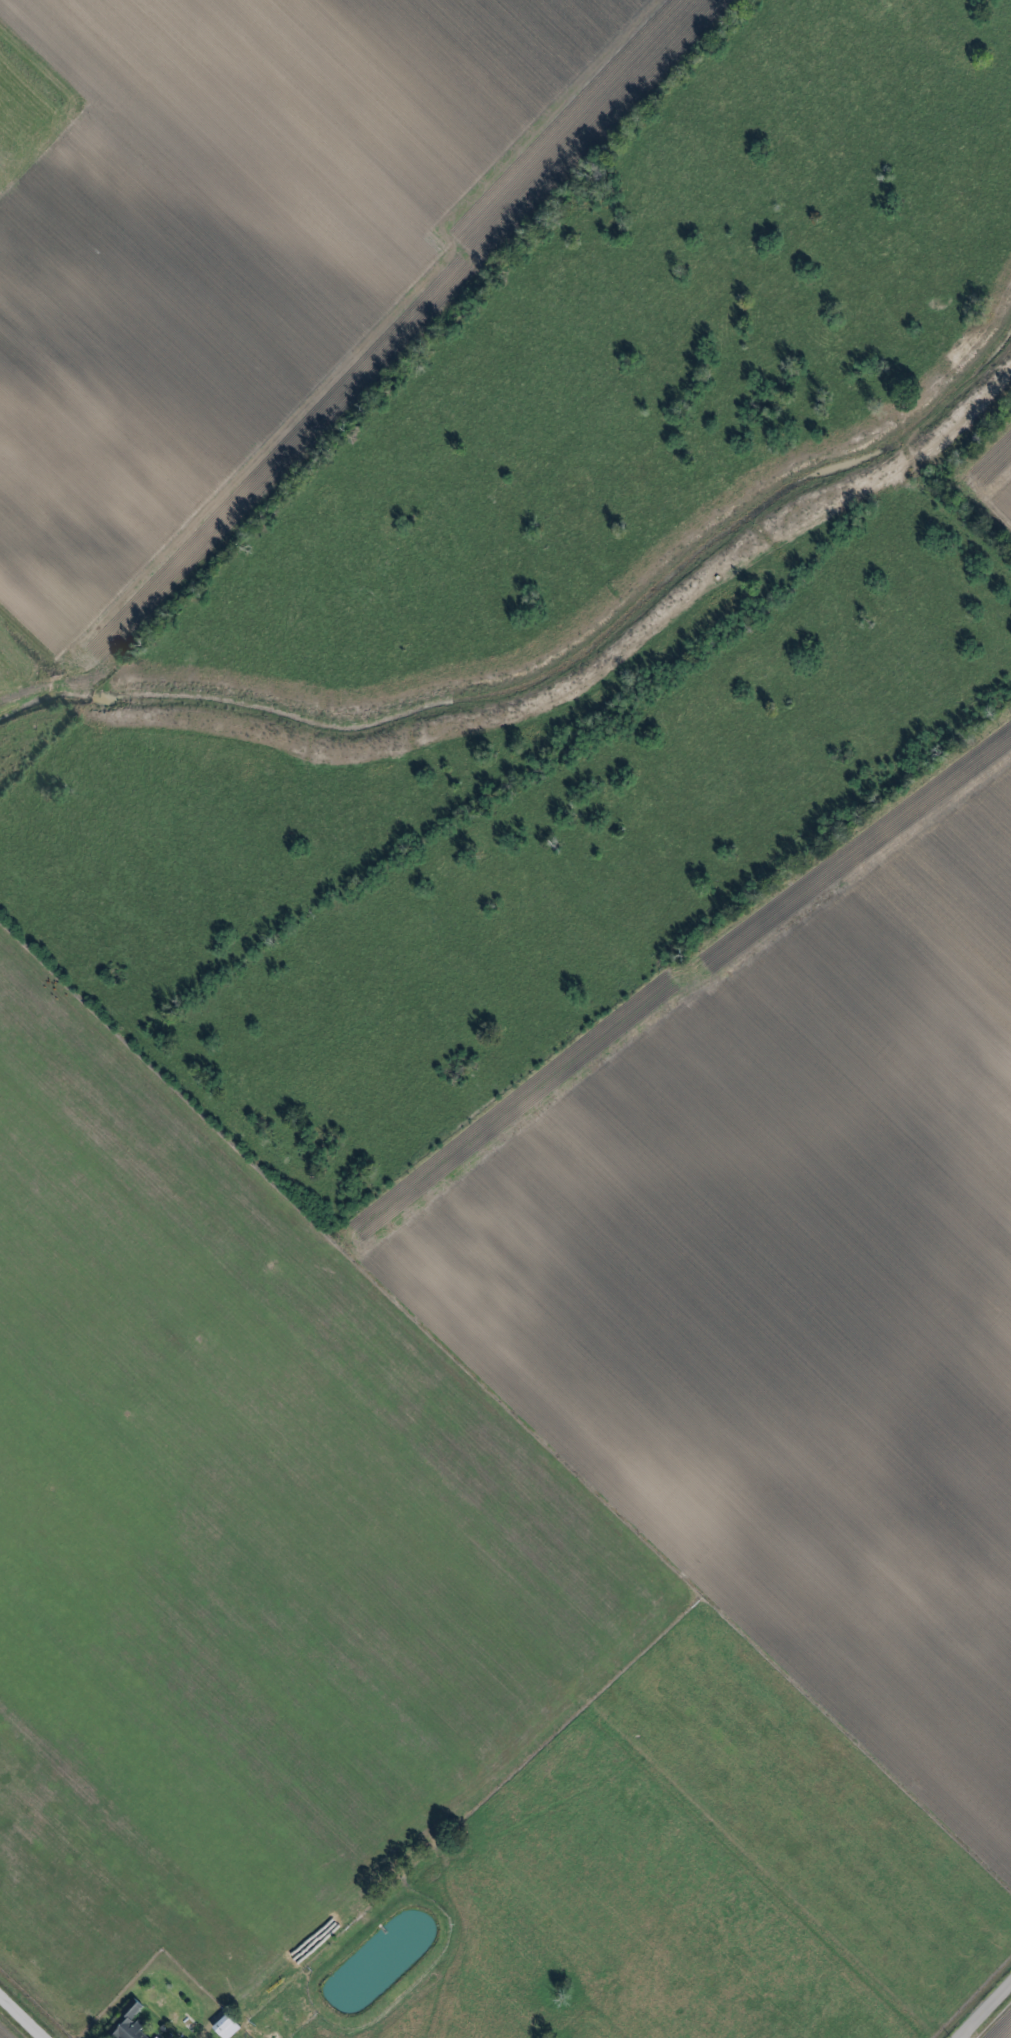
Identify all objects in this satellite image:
road: (984, 2009)
road: (235, 2010)
road: (22, 2016)
building: (130, 2023)
building: (226, 2027)

